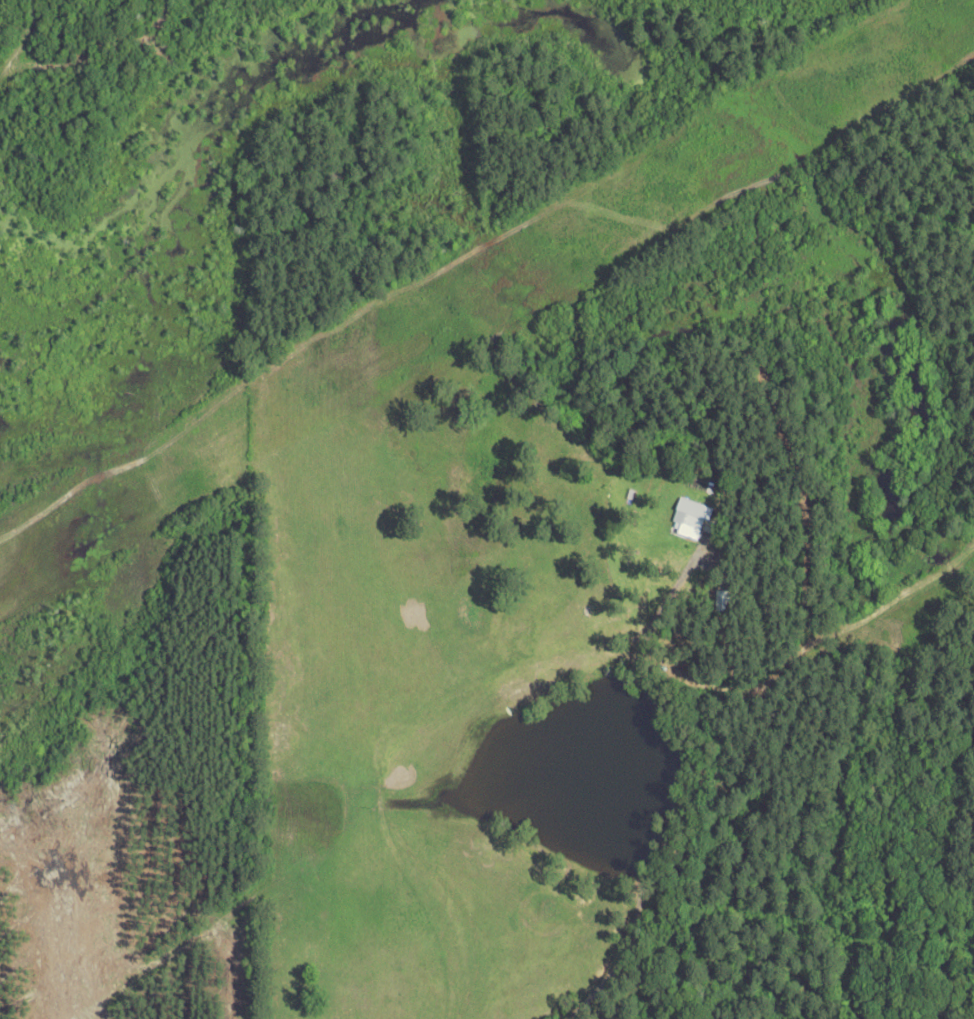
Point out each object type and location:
building: (697, 528)

